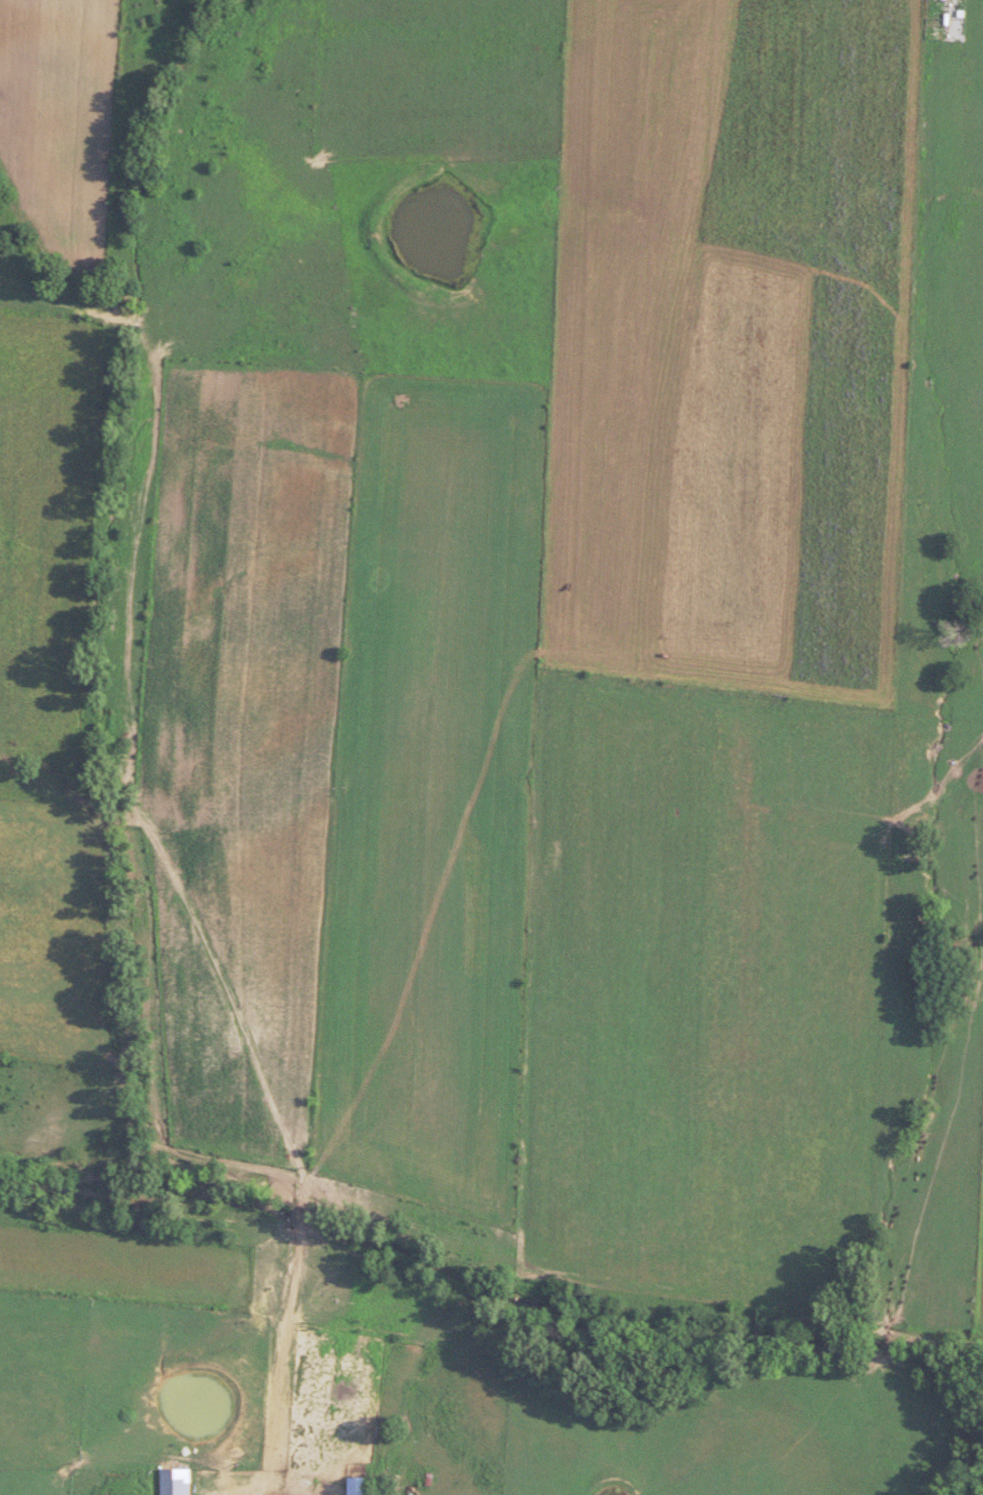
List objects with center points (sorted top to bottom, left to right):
road: (547, 556)
road: (151, 994)
building: (181, 1481)
building: (308, 1494)

